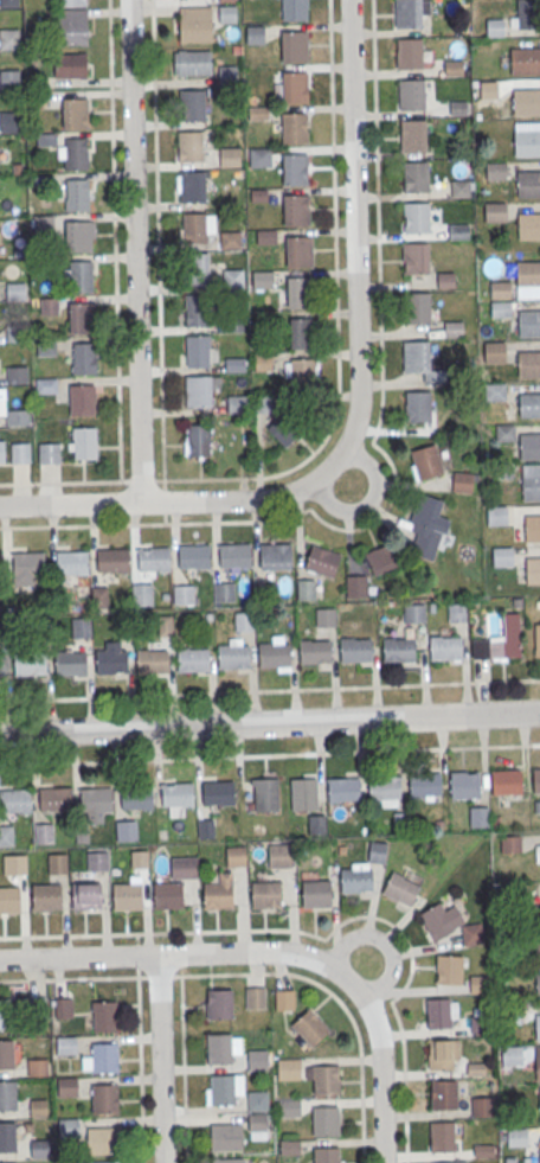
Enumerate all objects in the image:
building: (8, 2)
building: (73, 2)
building: (294, 9)
building: (407, 13)
building: (523, 14)
building: (227, 15)
building: (194, 23)
building: (71, 25)
building: (494, 27)
building: (255, 36)
building: (8, 38)
building: (292, 45)
building: (407, 52)
building: (525, 60)
building: (192, 62)
building: (70, 64)
building: (452, 68)
building: (227, 76)
building: (8, 79)
building: (294, 87)
building: (411, 94)
building: (526, 102)
building: (191, 104)
building: (457, 107)
building: (73, 113)
building: (257, 114)
building: (9, 121)
building: (294, 127)
building: (412, 134)
building: (45, 139)
building: (527, 142)
building: (188, 146)
building: (75, 153)
building: (229, 158)
building: (259, 158)
building: (295, 168)
building: (495, 171)
building: (414, 175)
building: (528, 183)
building: (192, 186)
building: (461, 187)
building: (76, 193)
building: (258, 196)
building: (296, 210)
building: (495, 211)
building: (416, 217)
building: (528, 225)
building: (193, 228)
building: (458, 231)
building: (76, 237)
building: (266, 238)
road: (115, 239)
road: (157, 239)
building: (229, 242)
road: (136, 250)
building: (297, 250)
building: (416, 257)
building: (198, 268)
building: (528, 271)
building: (79, 275)
building: (262, 280)
building: (232, 281)
building: (445, 281)
building: (501, 290)
building: (298, 292)
building: (417, 307)
building: (197, 309)
building: (501, 311)
building: (79, 318)
building: (528, 322)
building: (232, 324)
building: (452, 330)
building: (302, 333)
building: (197, 350)
building: (495, 353)
building: (416, 356)
building: (83, 358)
building: (262, 362)
building: (233, 364)
building: (528, 364)
building: (303, 372)
building: (17, 375)
road: (336, 390)
building: (198, 391)
building: (495, 394)
building: (82, 398)
building: (2, 403)
building: (529, 404)
road: (356, 405)
building: (417, 407)
building: (17, 416)
building: (283, 429)
building: (504, 434)
building: (197, 440)
building: (84, 442)
building: (1, 446)
building: (529, 446)
building: (19, 452)
building: (49, 452)
road: (385, 453)
building: (426, 461)
building: (503, 473)
building: (464, 481)
building: (531, 484)
building: (496, 517)
building: (426, 525)
building: (532, 528)
building: (234, 555)
building: (275, 555)
building: (194, 556)
building: (502, 557)
building: (153, 558)
building: (381, 558)
building: (112, 560)
building: (71, 561)
building: (322, 561)
building: (27, 563)
building: (533, 569)
building: (355, 586)
building: (304, 589)
building: (223, 592)
building: (142, 594)
building: (184, 594)
building: (98, 596)
building: (413, 612)
building: (456, 612)
building: (324, 616)
building: (244, 620)
building: (165, 625)
building: (81, 627)
building: (500, 640)
building: (536, 640)
building: (444, 647)
building: (315, 650)
building: (355, 650)
building: (399, 650)
building: (274, 653)
building: (234, 656)
building: (193, 659)
building: (110, 660)
building: (153, 660)
building: (70, 662)
building: (30, 663)
building: (2, 664)
road: (270, 690)
road: (270, 723)
road: (270, 754)
building: (535, 780)
building: (506, 781)
building: (464, 782)
building: (425, 784)
building: (384, 787)
building: (343, 791)
building: (178, 793)
building: (219, 793)
building: (303, 793)
building: (264, 794)
building: (137, 797)
building: (54, 798)
building: (96, 799)
building: (14, 800)
building: (316, 824)
building: (126, 830)
building: (44, 833)
building: (6, 835)
building: (509, 843)
building: (236, 855)
building: (279, 855)
building: (538, 856)
building: (139, 858)
building: (97, 860)
building: (13, 863)
building: (57, 863)
building: (184, 867)
building: (361, 871)
building: (400, 888)
building: (315, 893)
building: (167, 894)
building: (265, 894)
building: (86, 895)
building: (126, 895)
building: (218, 895)
building: (45, 896)
building: (9, 899)
road: (166, 933)
building: (471, 933)
road: (384, 944)
building: (536, 944)
road: (274, 952)
building: (449, 969)
road: (159, 976)
road: (69, 978)
building: (480, 984)
building: (538, 985)
building: (255, 997)
building: (284, 998)
road: (339, 1001)
building: (218, 1003)
building: (63, 1007)
building: (441, 1012)
building: (6, 1014)
building: (104, 1016)
building: (480, 1024)
building: (309, 1027)
building: (536, 1027)
building: (65, 1044)
building: (218, 1050)
building: (6, 1054)
building: (443, 1054)
building: (512, 1055)
building: (103, 1056)
road: (159, 1059)
building: (538, 1059)
building: (257, 1061)
building: (36, 1066)
building: (475, 1068)
building: (288, 1071)
building: (324, 1079)
building: (65, 1085)
building: (221, 1091)
building: (7, 1094)
building: (443, 1094)
building: (104, 1099)
building: (257, 1101)
road: (404, 1105)
building: (37, 1106)
building: (482, 1106)
building: (539, 1108)
building: (289, 1110)
building: (324, 1120)
building: (257, 1124)
building: (67, 1126)
building: (441, 1135)
building: (7, 1136)
building: (516, 1137)
building: (225, 1138)
building: (102, 1140)
building: (40, 1148)
building: (290, 1149)
building: (539, 1149)
building: (484, 1150)
building: (326, 1155)
building: (102, 1162)
building: (227, 1162)
building: (448, 1162)

